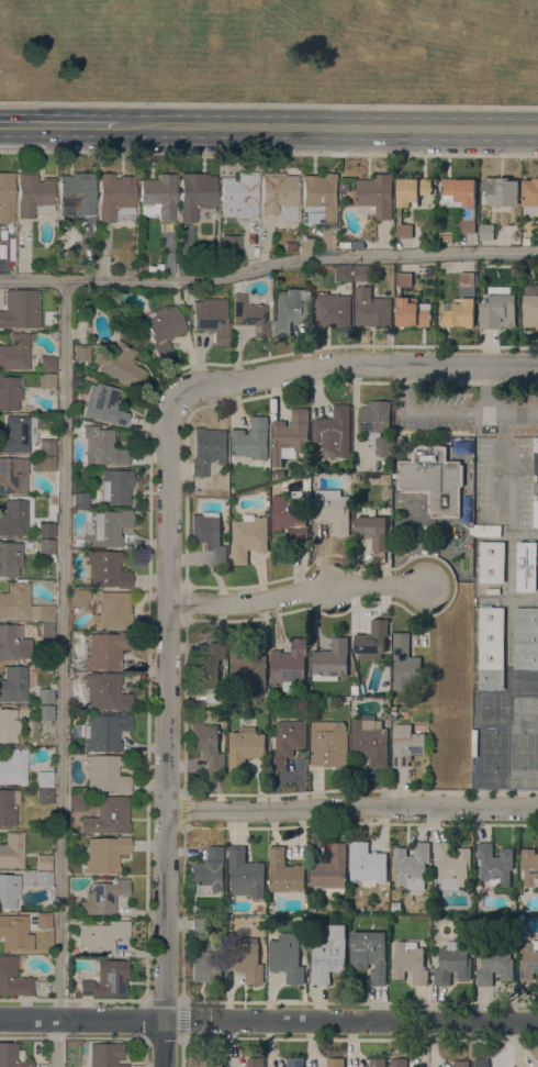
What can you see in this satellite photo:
road: (269, 103)
road: (58, 127)
road: (327, 129)
road: (269, 153)
building: (501, 191)
building: (240, 193)
building: (33, 194)
building: (76, 194)
building: (195, 194)
building: (159, 196)
building: (278, 196)
building: (374, 196)
building: (529, 196)
building: (5, 197)
building: (114, 197)
building: (408, 199)
building: (320, 200)
building: (461, 200)
building: (485, 232)
building: (303, 246)
building: (231, 247)
road: (268, 266)
building: (344, 273)
building: (361, 273)
building: (402, 277)
building: (530, 290)
building: (460, 304)
building: (371, 308)
building: (497, 309)
building: (20, 310)
building: (289, 310)
building: (330, 310)
building: (530, 310)
building: (412, 312)
building: (250, 316)
building: (211, 320)
building: (162, 329)
building: (14, 353)
building: (80, 353)
road: (355, 363)
building: (47, 364)
building: (121, 366)
building: (46, 380)
road: (470, 380)
road: (494, 390)
building: (9, 393)
building: (103, 405)
road: (444, 414)
building: (377, 424)
building: (333, 432)
building: (16, 434)
building: (290, 436)
parking lot: (485, 438)
building: (251, 440)
building: (536, 444)
building: (46, 447)
building: (102, 448)
building: (208, 449)
building: (43, 464)
road: (502, 465)
building: (278, 474)
building: (12, 476)
building: (433, 478)
building: (115, 486)
building: (80, 500)
building: (332, 510)
building: (290, 518)
building: (13, 519)
building: (105, 529)
building: (46, 531)
building: (373, 534)
building: (209, 535)
building: (248, 537)
building: (45, 547)
building: (10, 558)
building: (492, 562)
building: (526, 566)
building: (107, 569)
road: (298, 591)
building: (79, 598)
building: (22, 604)
building: (113, 611)
building: (45, 630)
building: (526, 638)
building: (371, 641)
building: (13, 644)
building: (491, 648)
building: (105, 651)
building: (330, 660)
building: (404, 664)
building: (289, 665)
building: (208, 667)
building: (247, 667)
road: (60, 674)
building: (526, 682)
building: (13, 685)
building: (354, 689)
building: (105, 692)
building: (45, 697)
building: (492, 708)
building: (44, 713)
building: (8, 726)
road: (165, 732)
building: (104, 733)
building: (370, 741)
building: (288, 742)
building: (206, 744)
building: (328, 744)
building: (405, 744)
building: (245, 746)
building: (13, 767)
building: (105, 774)
building: (44, 780)
road: (461, 792)
building: (44, 796)
building: (76, 802)
building: (8, 807)
road: (350, 808)
building: (108, 816)
building: (12, 851)
building: (104, 855)
building: (44, 863)
building: (495, 864)
building: (367, 865)
building: (451, 865)
building: (411, 866)
building: (529, 867)
building: (330, 870)
building: (208, 871)
building: (284, 874)
building: (245, 875)
building: (43, 879)
building: (9, 891)
building: (102, 898)
building: (43, 921)
building: (198, 924)
building: (14, 934)
building: (101, 937)
building: (328, 954)
building: (369, 954)
building: (245, 958)
building: (287, 958)
building: (528, 960)
building: (495, 962)
building: (408, 963)
building: (452, 963)
building: (204, 966)
building: (13, 980)
building: (107, 980)
road: (269, 1021)
building: (104, 1055)
building: (11, 1056)
building: (203, 1062)
building: (254, 1062)
building: (294, 1062)
building: (334, 1063)
building: (377, 1063)
building: (397, 1063)
building: (460, 1063)
building: (481, 1063)
building: (537, 1064)

